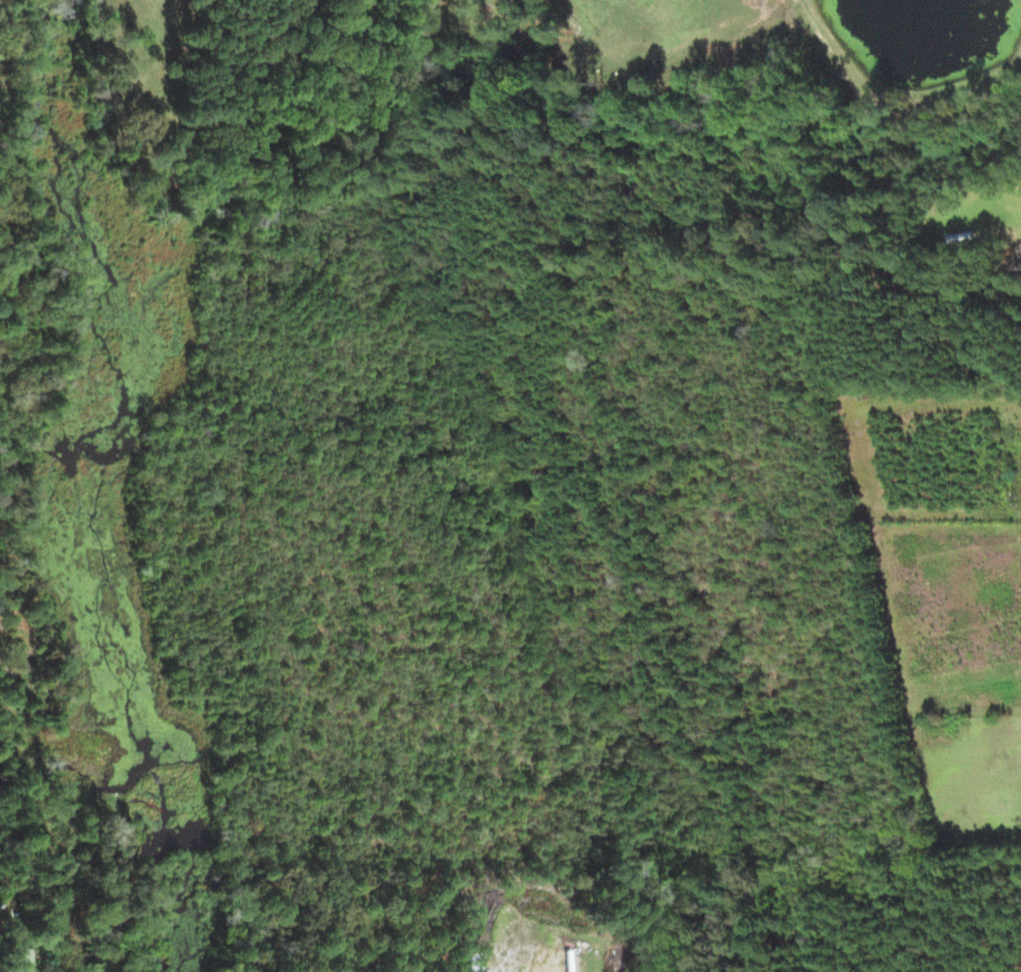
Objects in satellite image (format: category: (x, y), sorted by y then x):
building: (27, 960)

